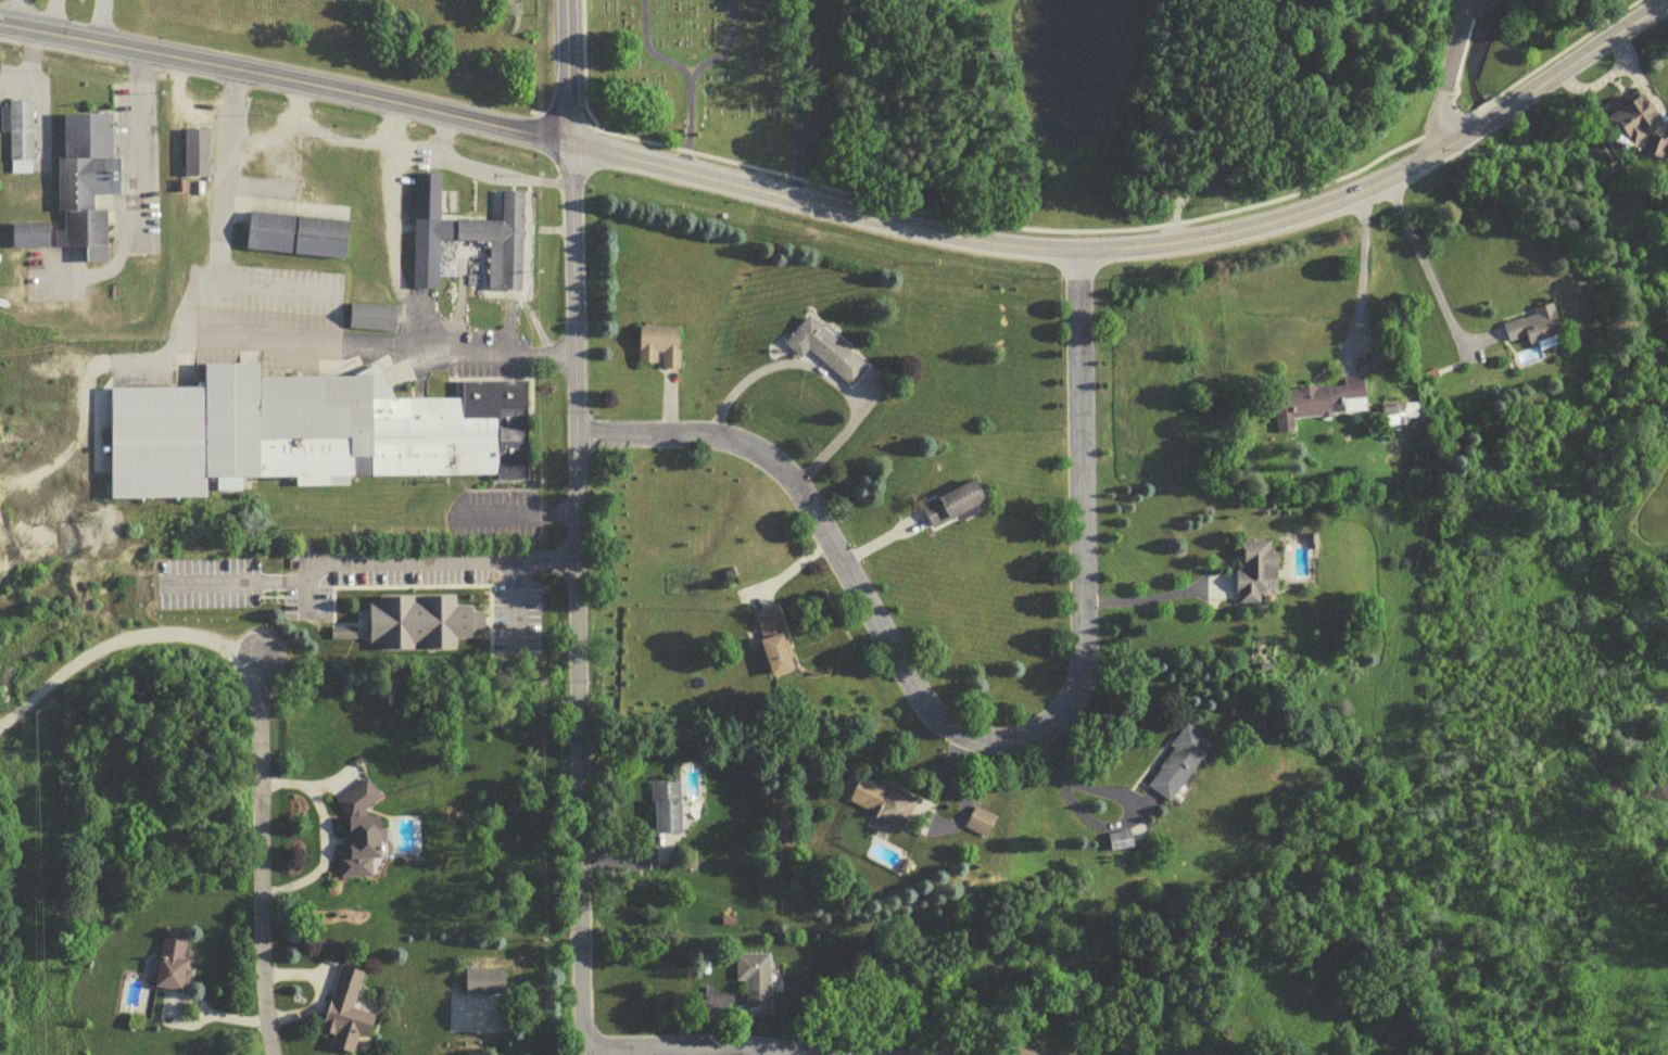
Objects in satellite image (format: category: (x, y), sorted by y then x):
park: (953, 1)
road: (9, 15)
road: (46, 18)
road: (93, 23)
road: (718, 47)
road: (643, 48)
road: (577, 65)
road: (1545, 66)
road: (569, 74)
road: (1444, 77)
park: (721, 79)
road: (286, 85)
park: (1157, 97)
road: (791, 100)
road: (528, 111)
road: (298, 115)
building: (1634, 115)
road: (557, 118)
road: (679, 125)
building: (16, 129)
road: (445, 141)
building: (191, 150)
road: (403, 152)
building: (84, 178)
road: (135, 192)
road: (1000, 225)
road: (393, 230)
building: (27, 231)
building: (291, 232)
building: (464, 237)
road: (1143, 252)
road: (1359, 281)
road: (1433, 282)
building: (368, 315)
building: (1531, 322)
building: (654, 342)
road: (261, 344)
building: (824, 347)
road: (817, 368)
building: (1318, 396)
road: (667, 401)
building: (304, 429)
building: (951, 500)
road: (882, 535)
road: (366, 561)
road: (786, 569)
building: (1258, 569)
road: (1155, 594)
road: (758, 595)
road: (577, 600)
building: (419, 619)
road: (121, 636)
building: (773, 638)
road: (973, 735)
building: (1177, 759)
building: (879, 800)
building: (666, 805)
road: (919, 816)
building: (976, 818)
road: (1095, 822)
building: (359, 832)
road: (318, 834)
building: (1115, 838)
building: (1121, 847)
road: (261, 850)
road: (639, 857)
building: (170, 957)
road: (320, 975)
building: (483, 979)
building: (753, 979)
road: (313, 990)
building: (344, 1008)
road: (172, 1020)
road: (729, 1048)
building: (1023, 1052)

